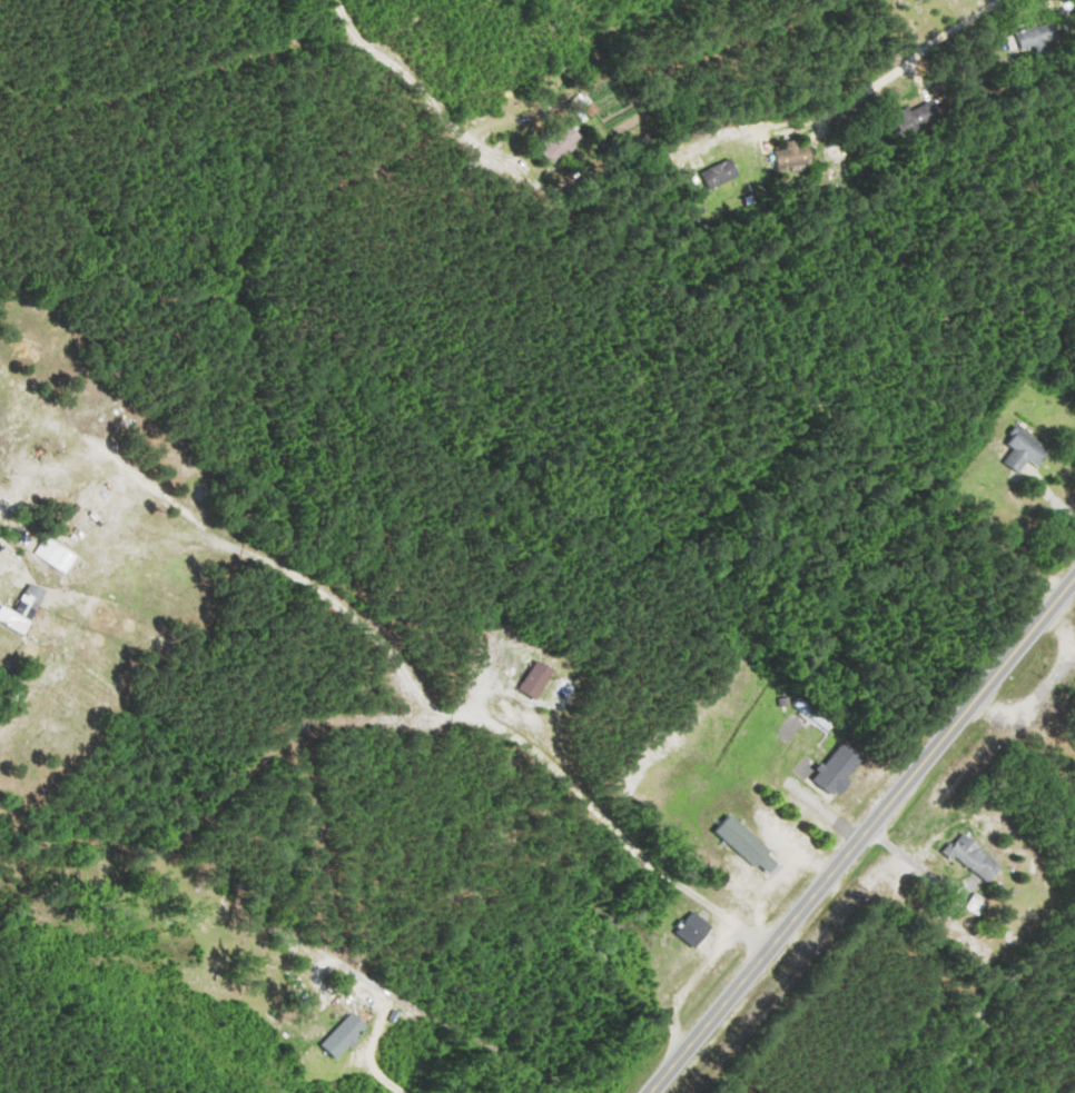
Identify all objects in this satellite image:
building: (1041, 38)
road: (856, 97)
building: (588, 109)
building: (919, 118)
building: (562, 145)
building: (796, 160)
building: (722, 175)
building: (1026, 449)
building: (32, 603)
building: (537, 680)
building: (812, 714)
building: (839, 769)
road: (860, 834)
building: (750, 847)
building: (976, 860)
building: (693, 931)
building: (342, 1041)

